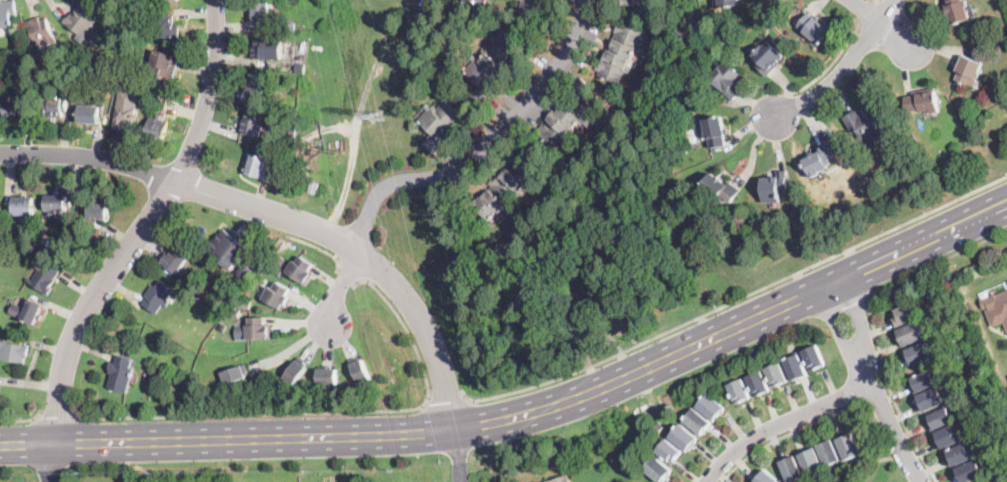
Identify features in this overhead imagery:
road: (871, 0)
building: (164, 1)
building: (627, 3)
building: (729, 3)
building: (476, 4)
road: (426, 7)
building: (537, 8)
road: (865, 9)
building: (957, 11)
building: (8, 13)
building: (263, 13)
building: (83, 20)
road: (882, 22)
building: (291, 27)
building: (166, 28)
building: (815, 28)
building: (42, 30)
building: (267, 49)
building: (622, 52)
building: (768, 56)
road: (833, 63)
building: (164, 64)
building: (493, 65)
building: (300, 68)
road: (844, 68)
building: (968, 70)
building: (106, 74)
building: (727, 80)
building: (256, 85)
building: (157, 96)
building: (143, 100)
building: (923, 102)
building: (55, 106)
building: (126, 107)
building: (17, 108)
building: (91, 114)
power tower: (377, 116)
building: (570, 116)
building: (254, 120)
building: (442, 123)
building: (867, 125)
building: (156, 129)
building: (290, 131)
building: (715, 131)
road: (488, 147)
building: (684, 148)
power tower: (339, 151)
building: (820, 160)
building: (257, 165)
building: (774, 187)
building: (507, 188)
building: (720, 188)
building: (56, 203)
building: (24, 206)
building: (97, 212)
road: (281, 215)
building: (48, 222)
road: (142, 230)
building: (221, 245)
road: (974, 245)
road: (319, 249)
building: (177, 256)
building: (280, 259)
building: (301, 268)
building: (246, 270)
road: (349, 273)
building: (45, 277)
road: (342, 287)
building: (278, 294)
building: (717, 294)
building: (157, 297)
road: (736, 300)
building: (246, 301)
building: (590, 307)
building: (996, 307)
building: (31, 311)
building: (235, 311)
building: (905, 316)
road: (734, 325)
building: (254, 327)
road: (406, 329)
building: (576, 332)
building: (910, 333)
building: (13, 352)
building: (918, 353)
building: (296, 369)
building: (361, 369)
building: (236, 372)
building: (120, 374)
building: (328, 374)
building: (777, 374)
building: (924, 381)
road: (872, 382)
road: (889, 387)
road: (876, 397)
building: (931, 399)
road: (447, 400)
road: (251, 414)
road: (60, 416)
building: (940, 418)
road: (23, 421)
road: (784, 422)
road: (455, 433)
road: (787, 435)
road: (227, 436)
building: (949, 436)
building: (683, 438)
building: (959, 455)
building: (837, 457)
road: (460, 460)
road: (52, 468)
building: (970, 471)
building: (767, 478)
building: (562, 479)

